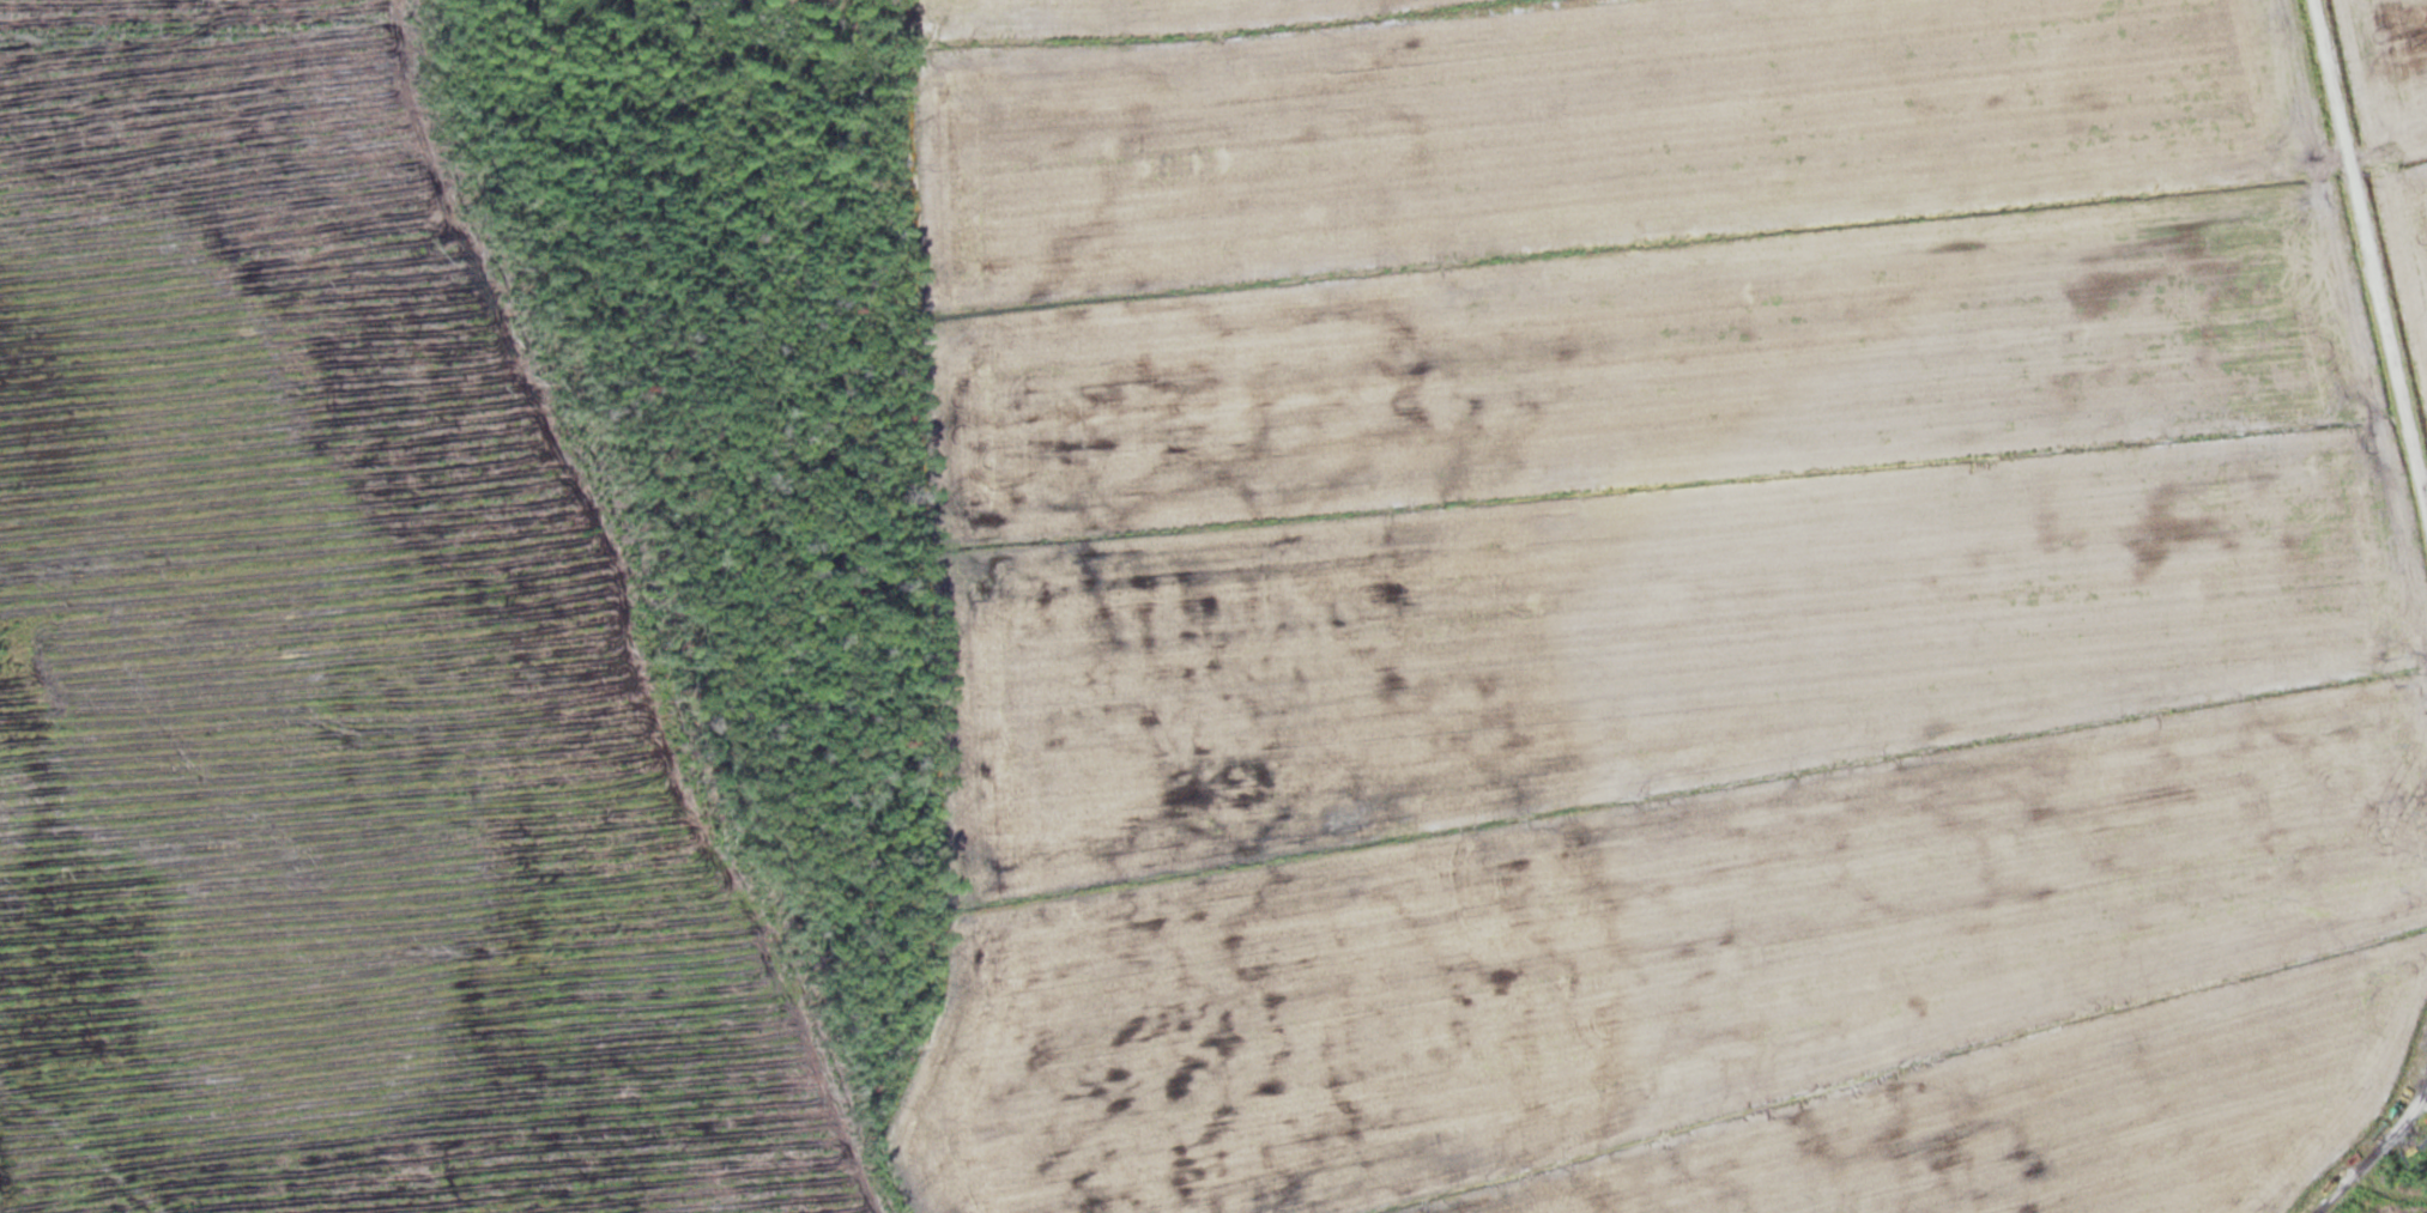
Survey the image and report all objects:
road: (2369, 260)

